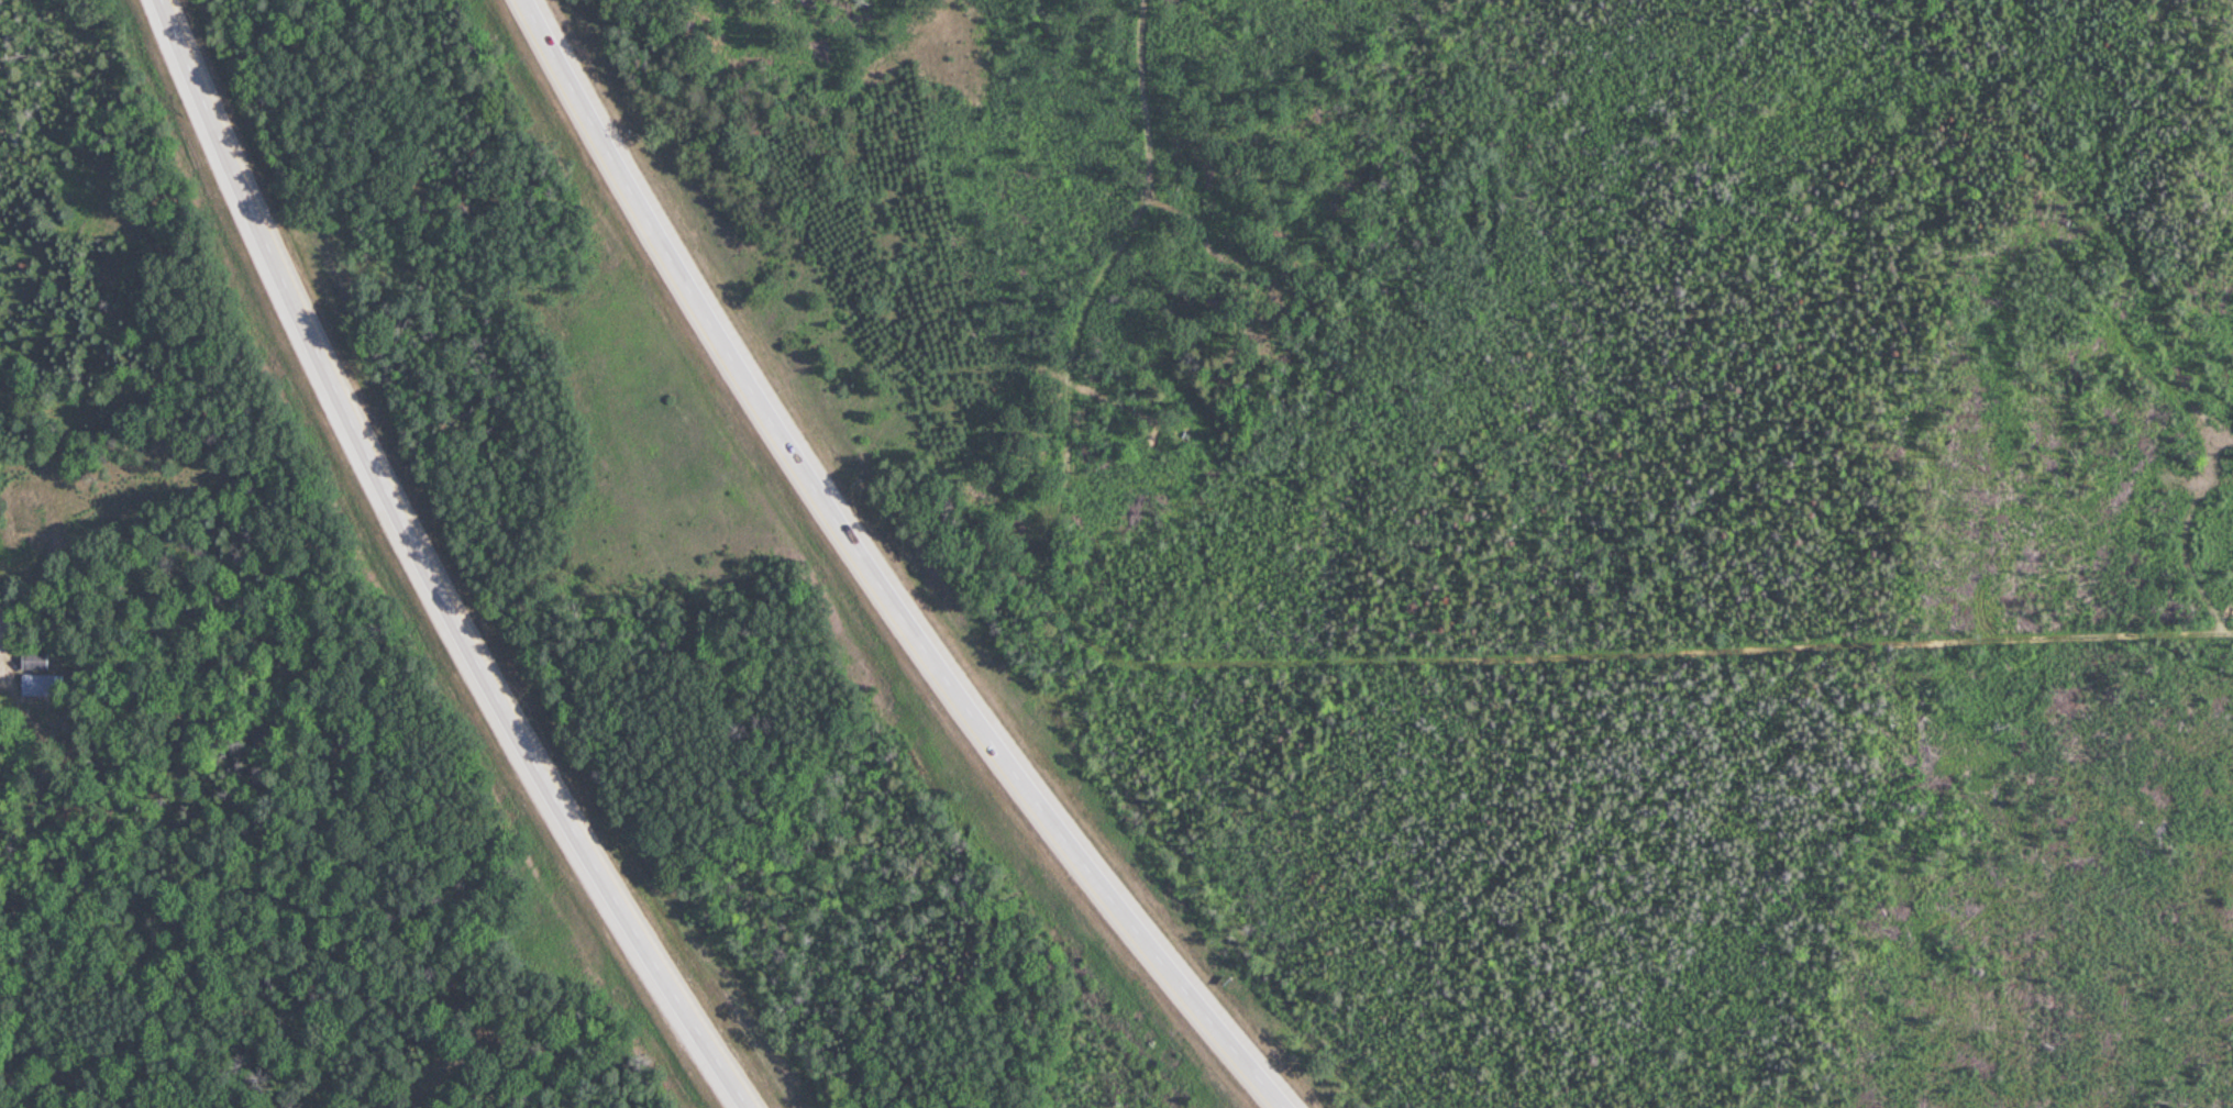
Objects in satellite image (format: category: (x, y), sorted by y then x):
building: (31, 519)
road: (436, 567)
road: (878, 576)
road: (133, 642)
building: (34, 657)
building: (43, 684)

